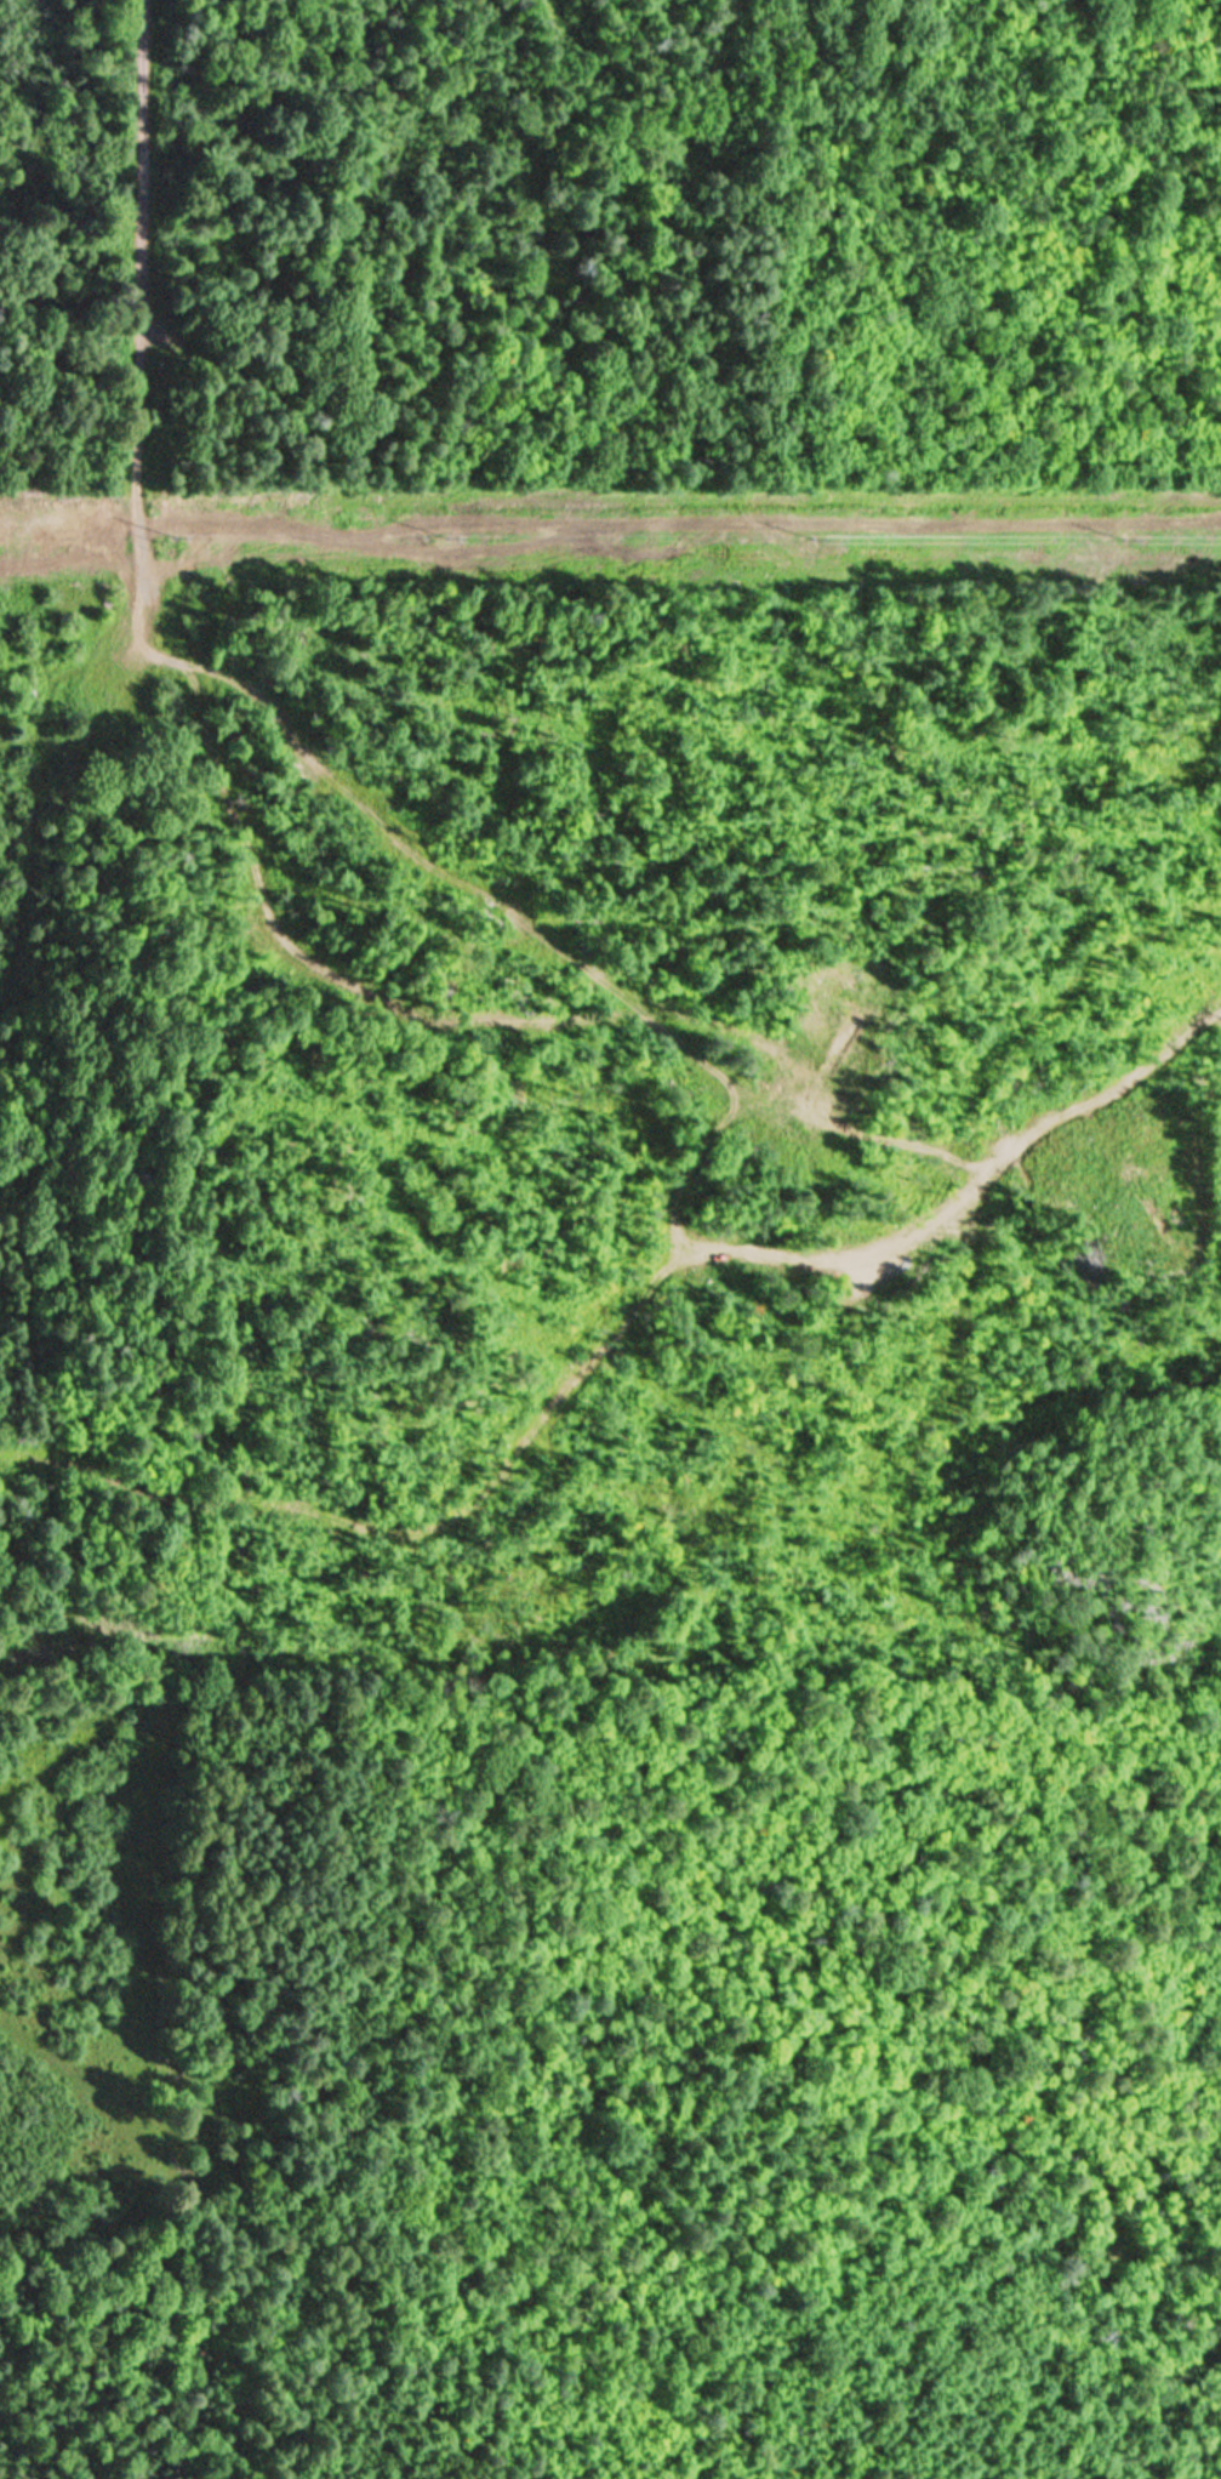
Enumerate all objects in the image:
road: (142, 387)

